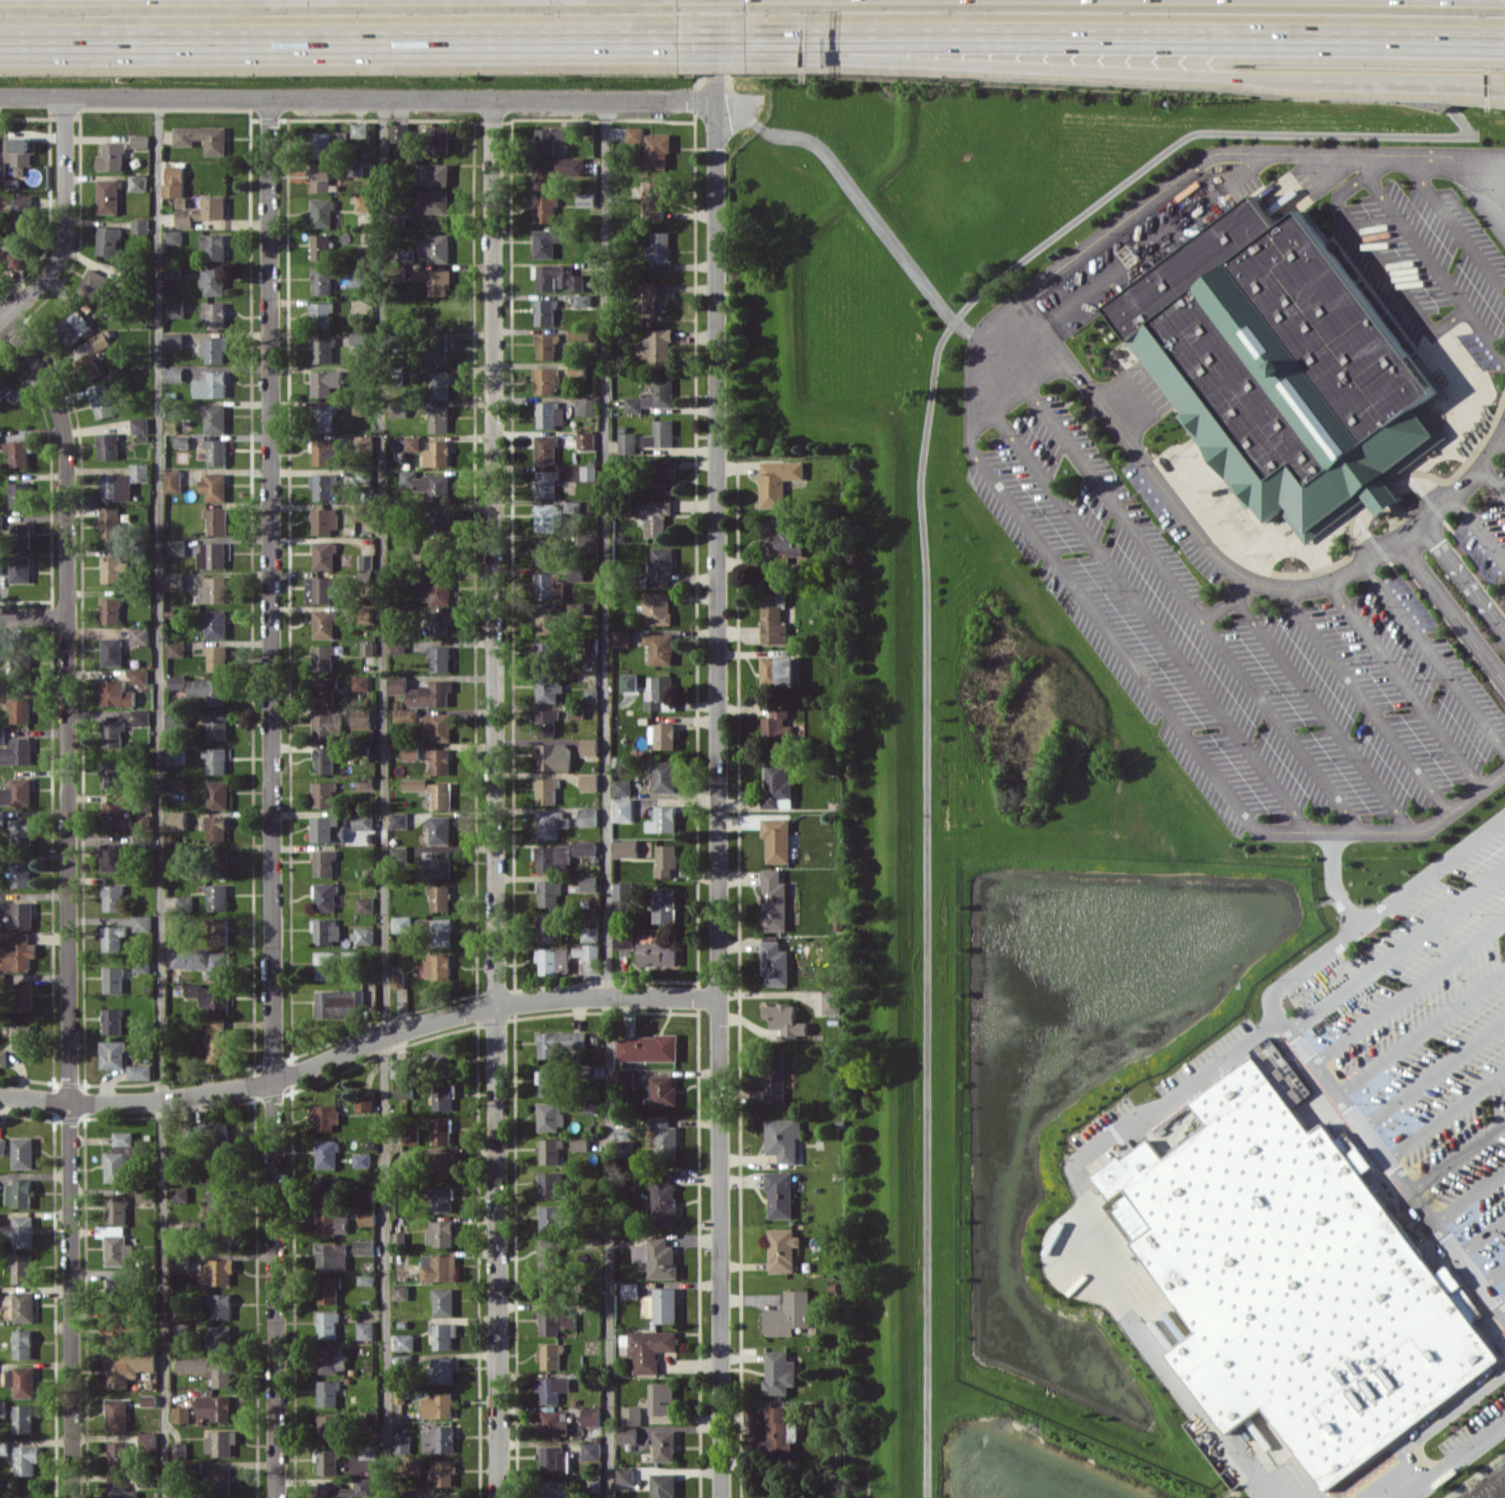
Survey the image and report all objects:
road: (715, 37)
road: (760, 37)
road: (1137, 37)
road: (340, 39)
road: (1040, 65)
road: (1409, 77)
road: (1409, 83)
road: (357, 99)
building: (359, 129)
building: (399, 132)
building: (634, 134)
building: (202, 138)
building: (438, 139)
building: (548, 139)
building: (140, 140)
building: (326, 142)
building: (657, 150)
building: (20, 153)
building: (112, 157)
road: (1377, 165)
building: (355, 169)
building: (556, 170)
building: (2, 173)
building: (433, 174)
road: (1493, 176)
building: (322, 178)
building: (138, 183)
building: (176, 183)
road: (1168, 189)
building: (108, 196)
building: (586, 198)
building: (654, 198)
road: (1337, 199)
road: (859, 200)
building: (433, 201)
building: (365, 202)
building: (546, 208)
building: (21, 211)
building: (202, 211)
building: (323, 213)
road: (64, 222)
building: (140, 225)
road: (1454, 225)
building: (174, 239)
building: (108, 240)
building: (551, 240)
building: (214, 246)
building: (321, 246)
building: (435, 248)
building: (660, 250)
building: (365, 253)
building: (11, 260)
parking lot: (1428, 260)
building: (358, 276)
building: (213, 280)
building: (323, 280)
building: (436, 280)
building: (92, 283)
building: (572, 283)
building: (655, 295)
building: (583, 300)
building: (175, 309)
building: (545, 311)
building: (214, 314)
building: (322, 314)
road: (3, 317)
building: (74, 327)
road: (1487, 330)
building: (578, 335)
building: (358, 338)
building: (174, 340)
building: (547, 345)
building: (656, 348)
building: (213, 349)
building: (324, 349)
building: (91, 350)
building: (438, 350)
building: (1280, 367)
building: (577, 370)
building: (173, 374)
building: (545, 380)
building: (325, 382)
building: (211, 384)
building: (439, 384)
building: (3, 389)
building: (659, 393)
building: (102, 400)
building: (634, 405)
building: (586, 406)
building: (361, 409)
building: (550, 414)
building: (323, 417)
building: (215, 418)
building: (438, 418)
building: (140, 425)
building: (661, 434)
building: (182, 440)
building: (586, 440)
building: (628, 442)
building: (364, 443)
building: (413, 443)
building: (109, 445)
building: (546, 448)
building: (216, 451)
building: (18, 452)
building: (325, 452)
building: (438, 454)
building: (579, 472)
building: (661, 475)
building: (778, 480)
road: (1494, 480)
building: (173, 481)
building: (123, 482)
building: (548, 483)
building: (428, 484)
building: (213, 486)
building: (323, 486)
building: (20, 495)
building: (573, 506)
building: (364, 512)
building: (654, 516)
building: (547, 517)
building: (1, 520)
building: (217, 520)
building: (325, 520)
parking lot: (1488, 520)
building: (442, 522)
building: (110, 524)
road: (1479, 529)
building: (20, 535)
building: (777, 545)
building: (176, 547)
building: (549, 551)
building: (212, 555)
building: (324, 555)
building: (437, 556)
building: (367, 561)
building: (1, 564)
building: (661, 564)
road: (1229, 567)
building: (114, 569)
road: (1464, 576)
building: (174, 581)
road: (1172, 581)
building: (550, 586)
building: (327, 588)
building: (214, 590)
building: (436, 590)
road: (927, 602)
road: (1229, 603)
building: (657, 608)
building: (577, 609)
road: (1141, 609)
building: (111, 610)
road: (1453, 610)
road: (33, 617)
building: (774, 618)
building: (548, 619)
building: (216, 623)
building: (325, 623)
building: (440, 624)
building: (398, 629)
building: (140, 636)
road: (1113, 637)
building: (622, 638)
parking lot: (1237, 640)
building: (398, 647)
building: (368, 648)
building: (660, 648)
building: (176, 649)
building: (112, 651)
building: (547, 653)
road: (1435, 654)
building: (218, 657)
building: (324, 657)
building: (441, 658)
building: (21, 661)
building: (778, 670)
building: (139, 675)
building: (178, 681)
building: (361, 683)
road: (1405, 684)
building: (399, 686)
building: (548, 687)
building: (209, 690)
building: (325, 691)
building: (117, 693)
building: (431, 693)
building: (661, 693)
building: (591, 695)
road: (1364, 698)
building: (20, 709)
road: (1325, 715)
building: (406, 716)
building: (141, 717)
building: (177, 718)
building: (547, 722)
building: (217, 725)
building: (327, 725)
building: (437, 726)
building: (778, 727)
building: (113, 733)
building: (2, 735)
building: (663, 736)
building: (590, 746)
road: (717, 748)
building: (412, 751)
building: (17, 752)
building: (177, 754)
building: (554, 756)
building: (216, 759)
building: (326, 759)
building: (440, 760)
building: (112, 774)
building: (664, 776)
building: (590, 782)
building: (177, 783)
building: (366, 783)
building: (415, 784)
building: (778, 786)
building: (623, 787)
building: (548, 790)
building: (20, 792)
building: (218, 794)
building: (324, 794)
building: (441, 795)
road: (160, 798)
road: (272, 798)
road: (383, 799)
road: (493, 799)
road: (607, 799)
building: (623, 810)
building: (116, 816)
building: (589, 816)
building: (3, 819)
building: (663, 819)
building: (177, 820)
building: (364, 820)
building: (400, 820)
building: (552, 823)
building: (330, 828)
building: (22, 829)
building: (217, 829)
building: (440, 829)
road: (1391, 831)
building: (777, 839)
building: (626, 848)
building: (400, 855)
building: (561, 855)
building: (112, 856)
building: (666, 859)
building: (325, 863)
building: (437, 864)
building: (22, 873)
road: (1330, 880)
building: (590, 883)
building: (623, 891)
building: (550, 892)
building: (218, 897)
building: (326, 897)
building: (439, 897)
building: (114, 898)
road: (69, 900)
building: (774, 900)
building: (185, 903)
building: (366, 904)
building: (665, 905)
building: (23, 914)
building: (142, 923)
building: (175, 924)
building: (404, 924)
building: (549, 927)
building: (218, 931)
building: (327, 931)
building: (439, 931)
building: (590, 933)
building: (365, 935)
building: (114, 937)
building: (624, 940)
road: (1397, 946)
road: (1321, 949)
building: (18, 950)
building: (587, 951)
building: (657, 952)
building: (203, 961)
building: (553, 961)
building: (775, 962)
building: (326, 965)
building: (436, 966)
building: (141, 967)
building: (114, 979)
building: (399, 980)
road: (1408, 986)
building: (24, 996)
building: (210, 997)
building: (832, 1002)
building: (338, 1003)
building: (785, 1019)
building: (113, 1020)
road: (1420, 1026)
building: (23, 1037)
building: (217, 1040)
building: (561, 1042)
road: (358, 1043)
building: (648, 1048)
building: (113, 1054)
building: (440, 1057)
building: (3, 1058)
building: (400, 1068)
building: (140, 1071)
road: (1434, 1071)
building: (625, 1077)
building: (775, 1079)
building: (549, 1082)
building: (403, 1089)
building: (665, 1090)
building: (443, 1096)
road: (1167, 1099)
building: (365, 1103)
road: (1445, 1107)
building: (550, 1116)
building: (326, 1117)
building: (193, 1130)
building: (441, 1130)
building: (217, 1133)
building: (665, 1137)
building: (784, 1138)
building: (580, 1142)
building: (3, 1146)
road: (1457, 1148)
building: (627, 1149)
building: (551, 1150)
building: (23, 1152)
building: (327, 1154)
building: (120, 1157)
building: (411, 1157)
building: (363, 1160)
building: (443, 1165)
building: (179, 1174)
building: (553, 1185)
building: (328, 1187)
road: (1470, 1192)
building: (20, 1193)
building: (144, 1193)
building: (179, 1194)
building: (780, 1194)
building: (367, 1195)
building: (664, 1198)
building: (442, 1199)
building: (117, 1208)
road: (1434, 1216)
building: (368, 1217)
building: (555, 1218)
building: (333, 1222)
building: (24, 1231)
road: (1481, 1231)
building: (440, 1233)
building: (115, 1244)
building: (365, 1247)
building: (783, 1249)
road: (1103, 1250)
building: (550, 1253)
building: (332, 1256)
building: (658, 1257)
building: (439, 1267)
building: (22, 1268)
building: (220, 1271)
road: (1494, 1272)
building: (1297, 1278)
building: (366, 1279)
building: (549, 1287)
building: (630, 1289)
building: (118, 1290)
building: (328, 1290)
building: (401, 1291)
building: (444, 1302)
building: (219, 1305)
building: (666, 1305)
building: (24, 1306)
building: (180, 1310)
building: (789, 1314)
building: (557, 1321)
building: (327, 1324)
building: (181, 1330)
building: (365, 1330)
building: (115, 1331)
building: (442, 1335)
building: (219, 1339)
building: (405, 1342)
building: (23, 1344)
building: (651, 1348)
building: (550, 1355)
building: (331, 1358)
building: (129, 1367)
building: (443, 1369)
building: (210, 1370)
building: (780, 1373)
building: (22, 1380)
building: (552, 1388)
building: (328, 1393)
building: (663, 1398)
building: (438, 1405)
building: (3, 1408)
building: (213, 1408)
road: (1198, 1411)
building: (116, 1414)
building: (181, 1414)
building: (632, 1415)
building: (591, 1416)
building: (23, 1419)
road: (1441, 1421)
building: (555, 1424)
building: (329, 1427)
building: (780, 1433)
building: (627, 1435)
building: (439, 1439)
building: (220, 1442)
building: (403, 1444)
building: (665, 1445)
building: (4, 1447)
building: (179, 1449)
building: (592, 1450)
building: (368, 1452)
building: (118, 1455)
building: (26, 1459)
building: (555, 1459)
road: (1453, 1459)
building: (328, 1461)
building: (413, 1466)
building: (442, 1472)
building: (626, 1476)
building: (219, 1480)
building: (664, 1485)
building: (344, 1488)
building: (557, 1489)
building: (120, 1491)
building: (442, 1496)
building: (22, 1497)

